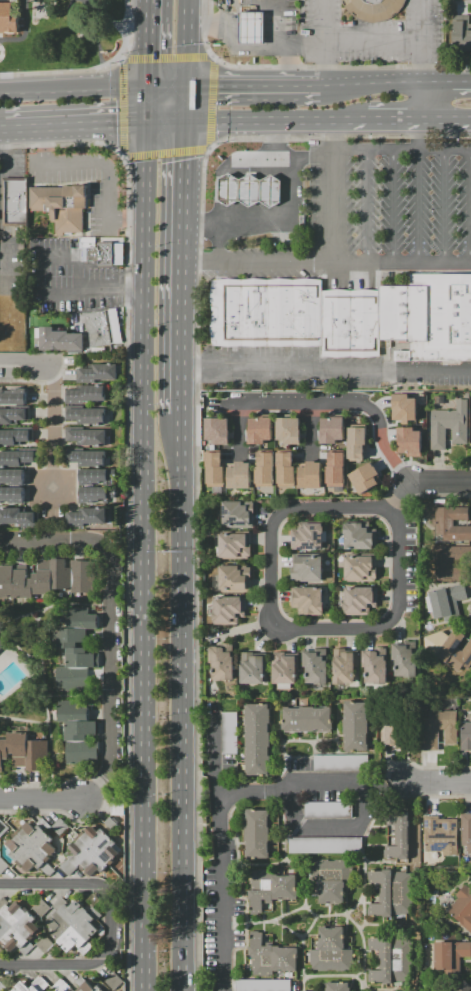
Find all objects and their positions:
road: (267, 6)
building: (371, 9)
road: (105, 15)
building: (7, 18)
road: (203, 29)
building: (248, 29)
road: (126, 31)
road: (24, 32)
building: (461, 34)
road: (374, 39)
road: (324, 41)
road: (424, 41)
road: (190, 42)
road: (154, 43)
road: (245, 51)
road: (165, 58)
road: (61, 71)
road: (372, 83)
road: (256, 84)
road: (447, 84)
road: (171, 85)
traffic signals: (190, 85)
road: (76, 86)
traffic signals: (153, 86)
road: (209, 102)
road: (423, 104)
road: (190, 105)
road: (121, 107)
road: (447, 124)
road: (2, 125)
road: (77, 125)
traffic signals: (151, 125)
road: (170, 125)
traffic signals: (190, 125)
road: (247, 125)
road: (334, 125)
road: (393, 125)
road: (422, 138)
road: (44, 143)
road: (63, 143)
road: (164, 151)
road: (401, 151)
road: (275, 153)
road: (103, 163)
building: (246, 190)
gas station: (246, 190)
building: (16, 199)
building: (63, 205)
road: (371, 207)
road: (398, 207)
road: (422, 207)
road: (447, 207)
road: (287, 218)
road: (130, 219)
road: (220, 243)
building: (103, 253)
road: (71, 258)
road: (260, 264)
road: (331, 264)
road: (189, 269)
road: (94, 287)
building: (265, 312)
road: (321, 317)
building: (401, 319)
building: (100, 328)
building: (59, 339)
road: (24, 360)
road: (329, 370)
building: (96, 373)
building: (85, 394)
building: (13, 397)
road: (338, 405)
building: (408, 407)
building: (14, 414)
building: (85, 415)
building: (470, 416)
road: (52, 425)
building: (449, 425)
building: (260, 429)
building: (332, 429)
building: (216, 430)
building: (288, 430)
building: (15, 436)
building: (86, 436)
building: (410, 442)
building: (357, 443)
building: (17, 457)
building: (85, 457)
building: (265, 469)
building: (285, 469)
building: (214, 470)
building: (336, 472)
building: (239, 475)
building: (311, 475)
building: (11, 477)
building: (92, 477)
building: (365, 477)
road: (425, 484)
building: (13, 494)
building: (92, 494)
building: (236, 515)
building: (16, 516)
building: (88, 516)
building: (451, 523)
road: (271, 530)
building: (307, 534)
building: (359, 535)
road: (149, 538)
building: (234, 546)
building: (451, 563)
building: (307, 566)
building: (359, 567)
building: (60, 574)
building: (81, 576)
building: (42, 577)
building: (234, 578)
building: (6, 582)
building: (22, 584)
building: (307, 599)
building: (359, 600)
building: (447, 601)
building: (227, 610)
building: (81, 619)
road: (114, 622)
building: (72, 638)
building: (1, 645)
building: (456, 651)
building: (79, 658)
building: (221, 659)
building: (405, 660)
building: (315, 665)
building: (344, 665)
building: (374, 666)
building: (255, 668)
building: (285, 669)
building: (72, 678)
road: (187, 702)
building: (73, 712)
building: (307, 719)
building: (356, 726)
building: (441, 726)
building: (82, 730)
building: (392, 730)
building: (229, 732)
building: (466, 735)
road: (52, 738)
building: (257, 740)
building: (19, 748)
building: (3, 752)
building: (83, 753)
building: (38, 755)
road: (217, 756)
building: (340, 763)
road: (438, 782)
road: (44, 800)
building: (117, 808)
building: (327, 809)
road: (364, 813)
building: (111, 824)
building: (3, 828)
building: (257, 832)
building: (466, 832)
building: (397, 834)
building: (440, 835)
building: (324, 845)
building: (31, 848)
building: (93, 851)
road: (221, 857)
building: (3, 865)
building: (331, 878)
road: (92, 884)
building: (270, 888)
building: (391, 893)
building: (462, 907)
building: (40, 908)
building: (72, 924)
building: (16, 927)
building: (331, 951)
building: (449, 956)
building: (270, 957)
building: (391, 959)
road: (50, 964)
building: (113, 981)
building: (61, 985)
building: (86, 985)
building: (263, 985)
building: (464, 986)
building: (2, 987)
building: (25, 987)
building: (337, 987)

